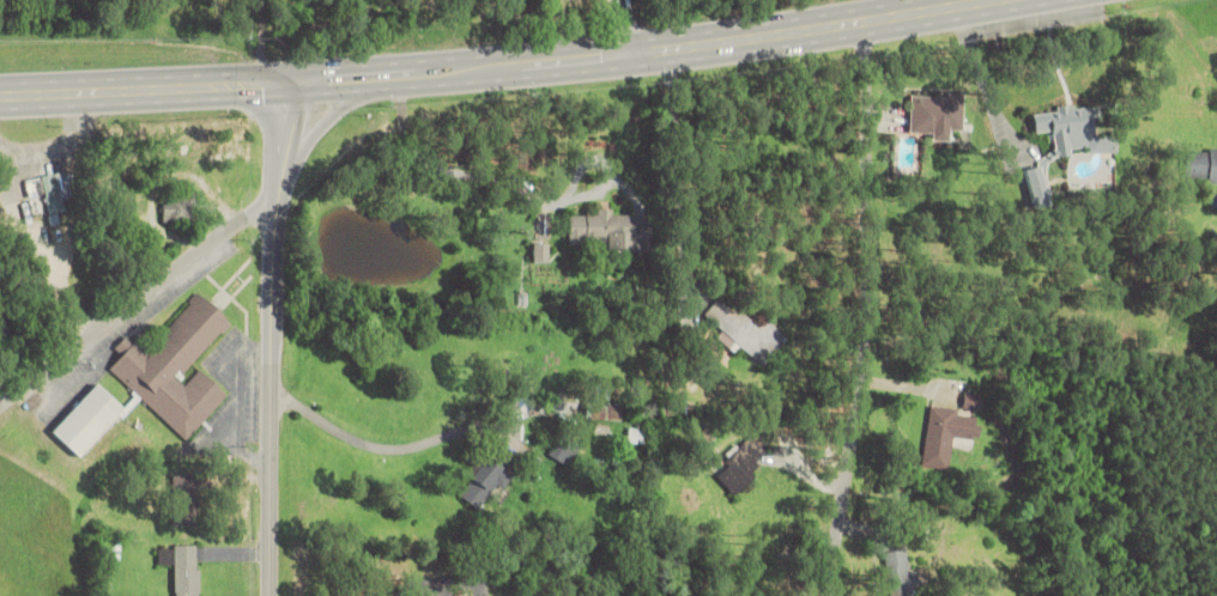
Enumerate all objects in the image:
park: (691, 6)
road: (629, 26)
road: (491, 66)
traffic signals: (287, 84)
building: (937, 114)
road: (334, 117)
road: (265, 122)
building: (1072, 130)
building: (1200, 165)
building: (1039, 187)
building: (46, 194)
building: (177, 208)
building: (604, 230)
road: (140, 294)
parking lot: (165, 297)
road: (852, 310)
building: (745, 332)
road: (270, 339)
building: (174, 367)
parking lot: (60, 390)
parking lot: (232, 391)
building: (604, 413)
building: (84, 419)
building: (637, 436)
building: (946, 436)
building: (564, 450)
building: (739, 467)
building: (489, 475)
building: (186, 500)
building: (181, 567)
building: (898, 573)

